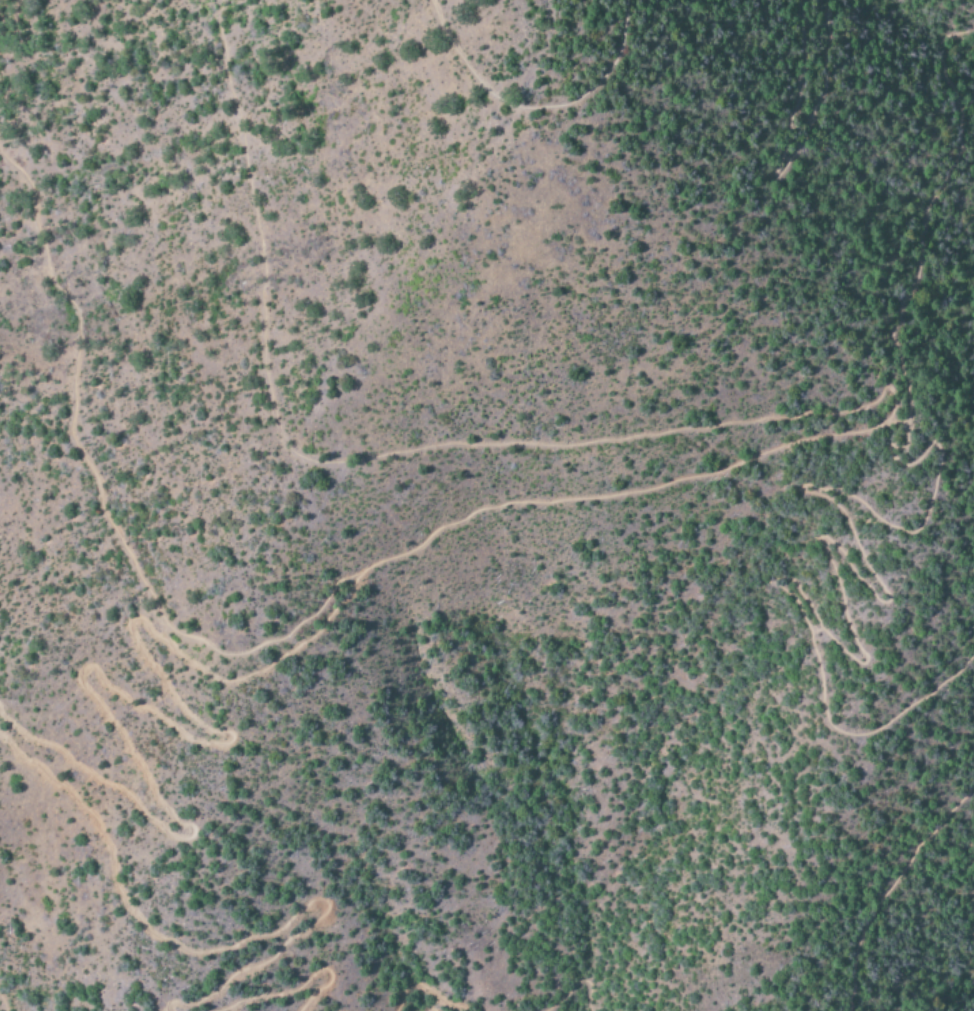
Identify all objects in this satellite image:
road: (533, 106)
road: (776, 172)
road: (370, 457)
road: (829, 498)
road: (303, 614)
road: (123, 695)
road: (890, 883)
road: (211, 945)
road: (292, 974)
road: (569, 987)
road: (419, 990)
road: (2, 1002)
road: (424, 1009)

